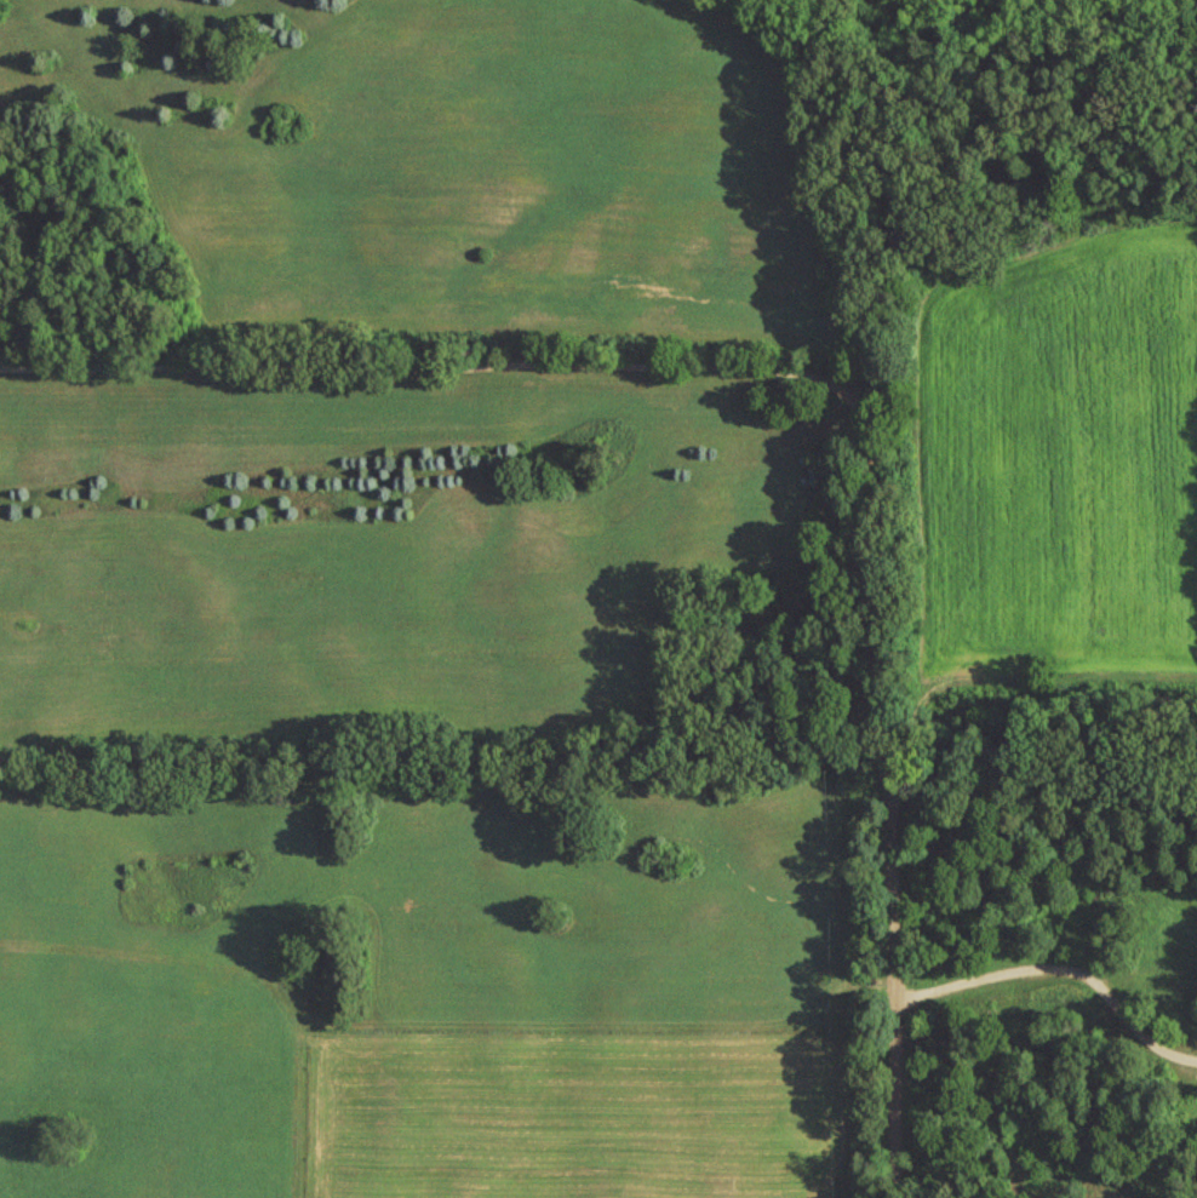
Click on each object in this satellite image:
road: (397, 368)
road: (886, 758)
road: (1043, 967)
road: (1180, 1057)

